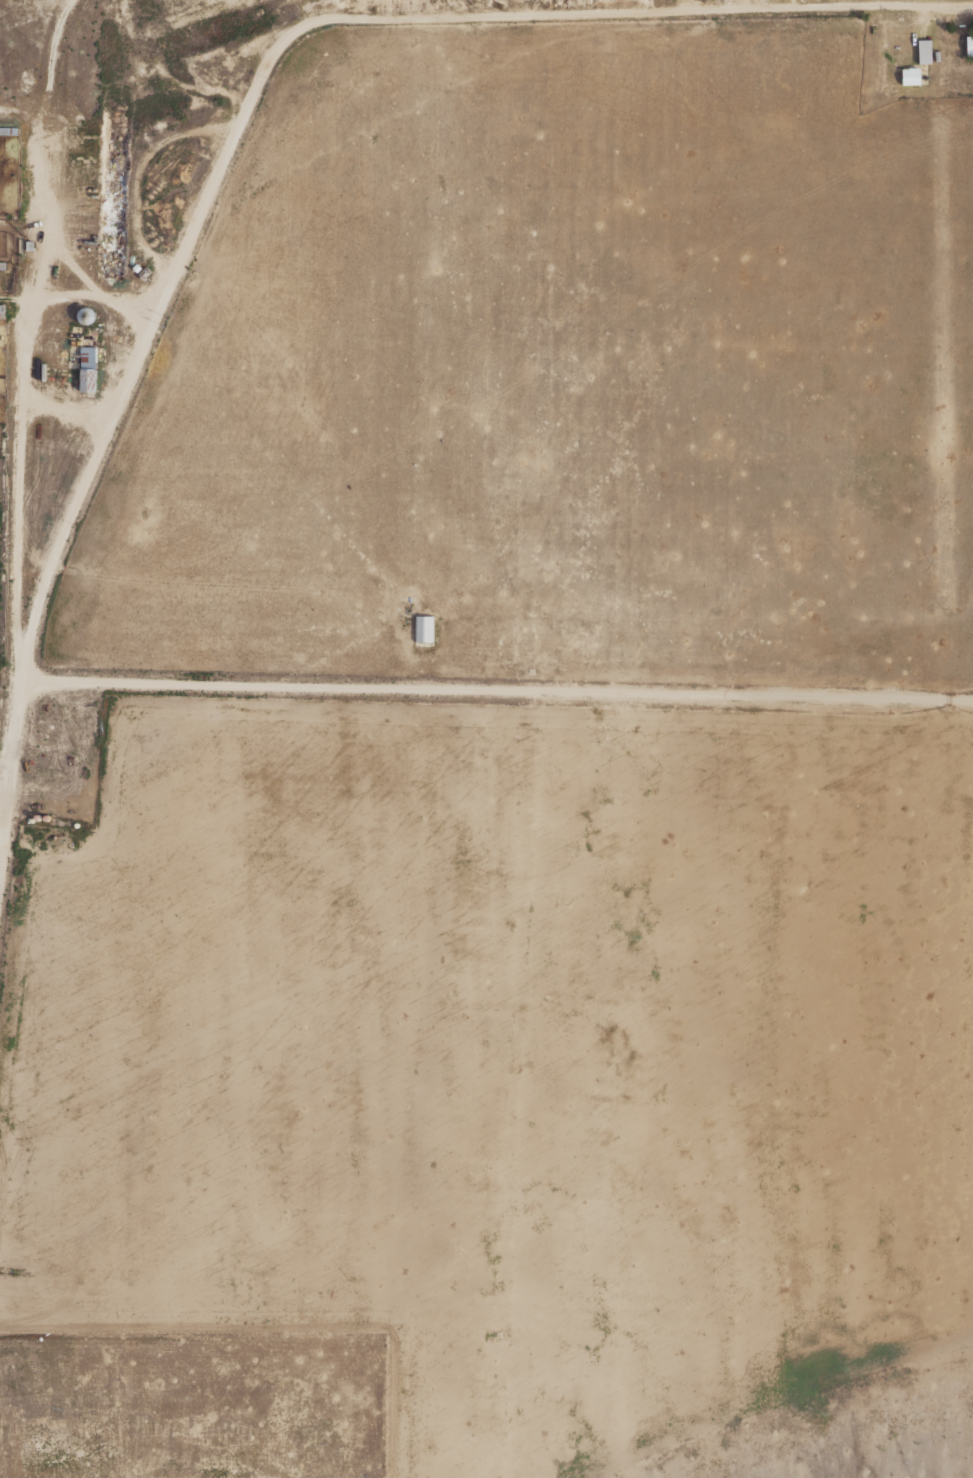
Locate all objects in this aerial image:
road: (764, 4)
road: (693, 6)
road: (306, 12)
road: (924, 20)
building: (925, 51)
building: (912, 75)
road: (18, 114)
building: (9, 130)
road: (143, 173)
building: (28, 245)
building: (2, 265)
road: (74, 265)
road: (89, 294)
building: (2, 310)
building: (87, 314)
road: (26, 330)
building: (89, 368)
road: (92, 466)
road: (232, 583)
building: (423, 628)
road: (10, 760)
building: (38, 816)
building: (48, 817)
building: (31, 819)
building: (76, 824)

